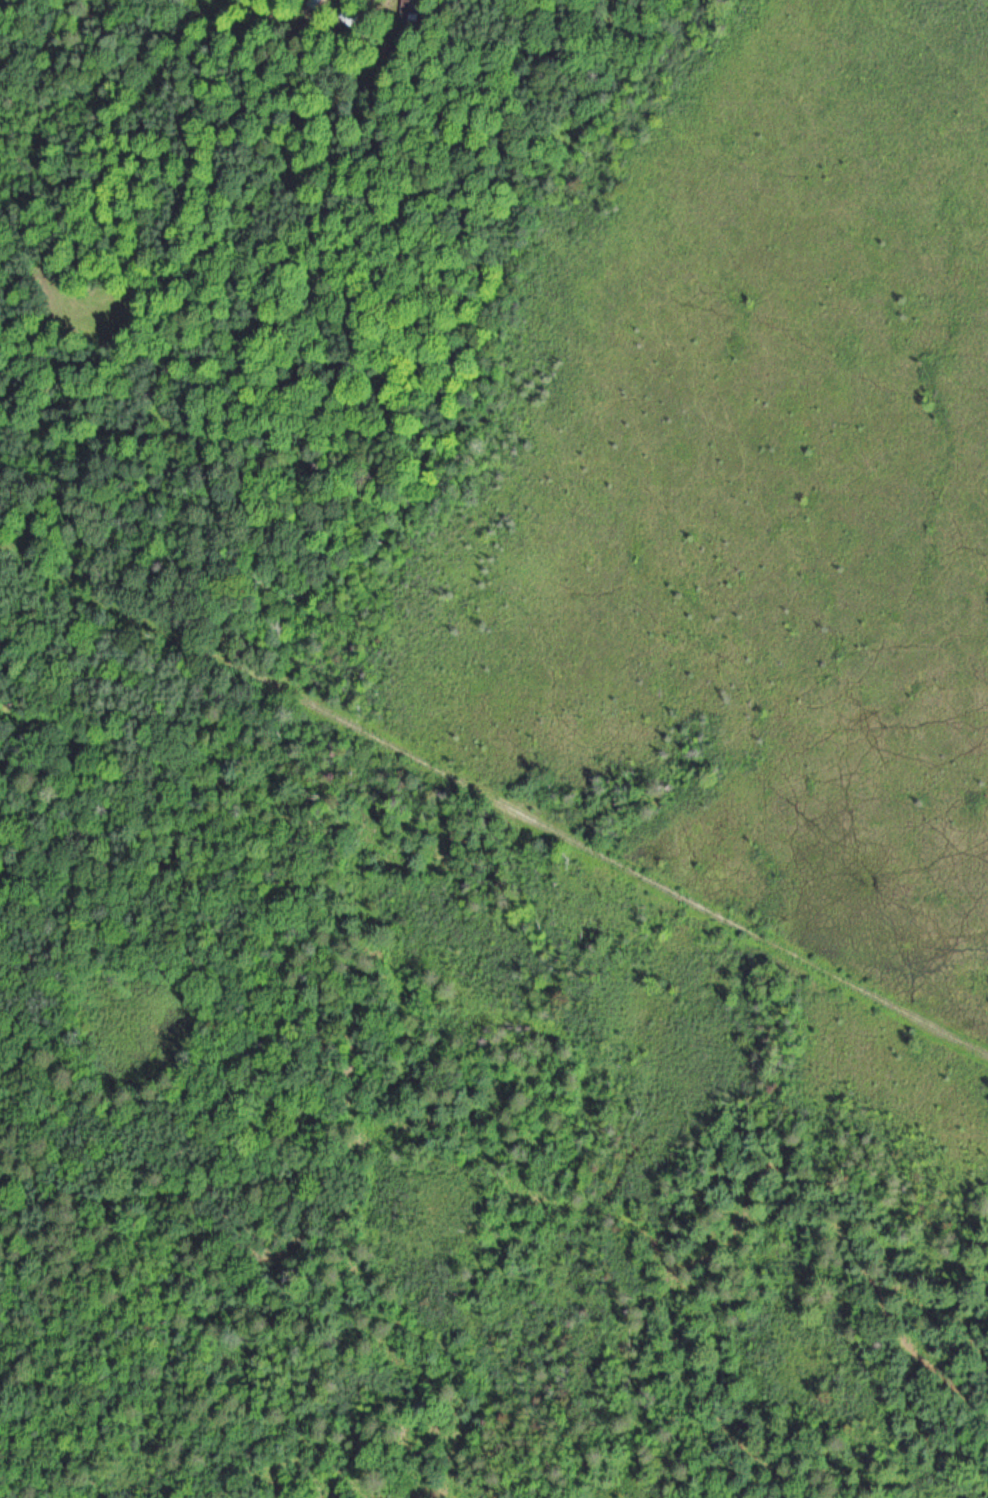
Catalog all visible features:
railway: (494, 795)

